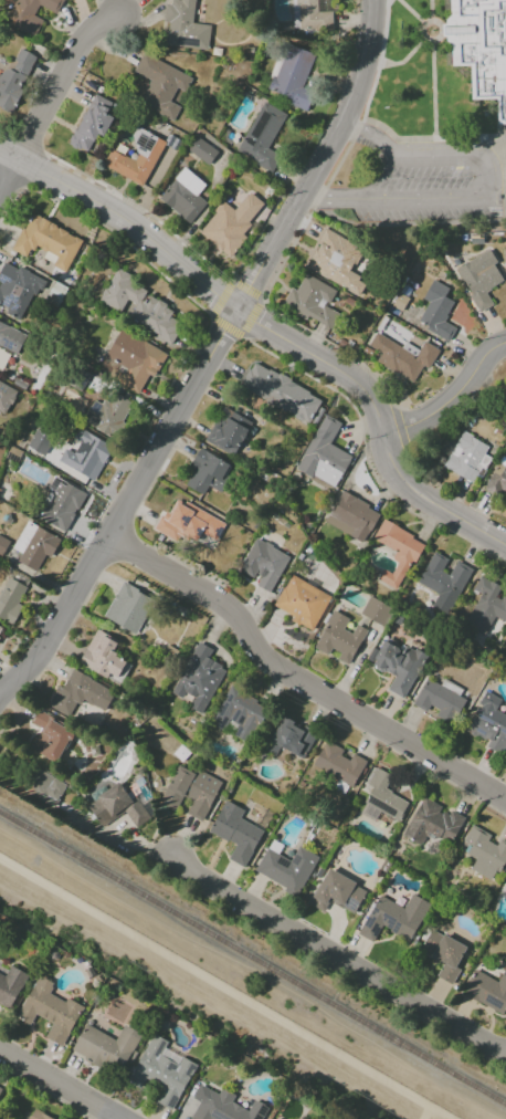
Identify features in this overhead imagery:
building: (29, 13)
building: (309, 14)
building: (183, 25)
building: (481, 48)
building: (292, 75)
building: (14, 77)
building: (160, 85)
road: (54, 100)
road: (20, 103)
building: (92, 123)
building: (262, 136)
rooftop solar panel: (147, 144)
building: (201, 150)
building: (136, 158)
building: (505, 160)
parking lot: (433, 184)
road: (486, 191)
building: (183, 195)
road: (140, 208)
building: (230, 223)
road: (254, 237)
building: (49, 247)
building: (336, 262)
building: (479, 279)
rooftop solar panel: (0, 280)
building: (27, 296)
rooftop solar panel: (8, 300)
road: (261, 300)
building: (310, 301)
building: (139, 305)
building: (436, 311)
road: (274, 334)
building: (12, 339)
rooftop solar panel: (7, 343)
road: (337, 348)
building: (402, 356)
road: (207, 359)
building: (130, 360)
building: (283, 394)
building: (7, 395)
road: (451, 400)
rooftop solar panel: (94, 408)
building: (106, 414)
rooftop solar panel: (98, 421)
road: (400, 429)
building: (228, 431)
building: (40, 441)
building: (324, 454)
building: (85, 456)
rooftop solar panel: (13, 458)
building: (466, 458)
building: (207, 472)
building: (497, 478)
rooftop solar panel: (56, 484)
building: (60, 504)
building: (351, 517)
building: (188, 523)
building: (2, 544)
building: (34, 545)
building: (403, 561)
building: (263, 564)
building: (443, 583)
building: (10, 598)
building: (302, 602)
building: (486, 606)
building: (128, 608)
building: (375, 610)
building: (0, 626)
building: (339, 638)
building: (103, 657)
building: (398, 666)
building: (198, 678)
road: (297, 681)
building: (80, 693)
building: (439, 700)
building: (239, 711)
rooftop solar panel: (486, 719)
building: (489, 724)
rooftop solar panel: (482, 732)
building: (50, 738)
building: (291, 739)
building: (338, 764)
building: (44, 787)
building: (190, 791)
building: (381, 798)
building: (116, 806)
rooftop solar panel: (386, 809)
building: (432, 823)
building: (235, 833)
building: (485, 853)
rooftop solar panel: (283, 859)
rooftop solar panel: (295, 859)
building: (285, 867)
building: (337, 892)
rooftop solar panel: (352, 903)
building: (393, 917)
railway: (253, 953)
building: (443, 953)
road: (342, 954)
building: (10, 985)
road: (225, 990)
building: (488, 991)
rooftop solar panel: (497, 1002)
building: (50, 1011)
building: (107, 1047)
rooftop solar panel: (160, 1048)
rooftop solar panel: (172, 1067)
rooftop solar panel: (190, 1069)
building: (161, 1071)
road: (57, 1084)
building: (1, 1092)
rooftop solar panel: (172, 1101)
building: (219, 1107)
road: (425, 1113)
building: (38, 1116)
building: (274, 1118)

